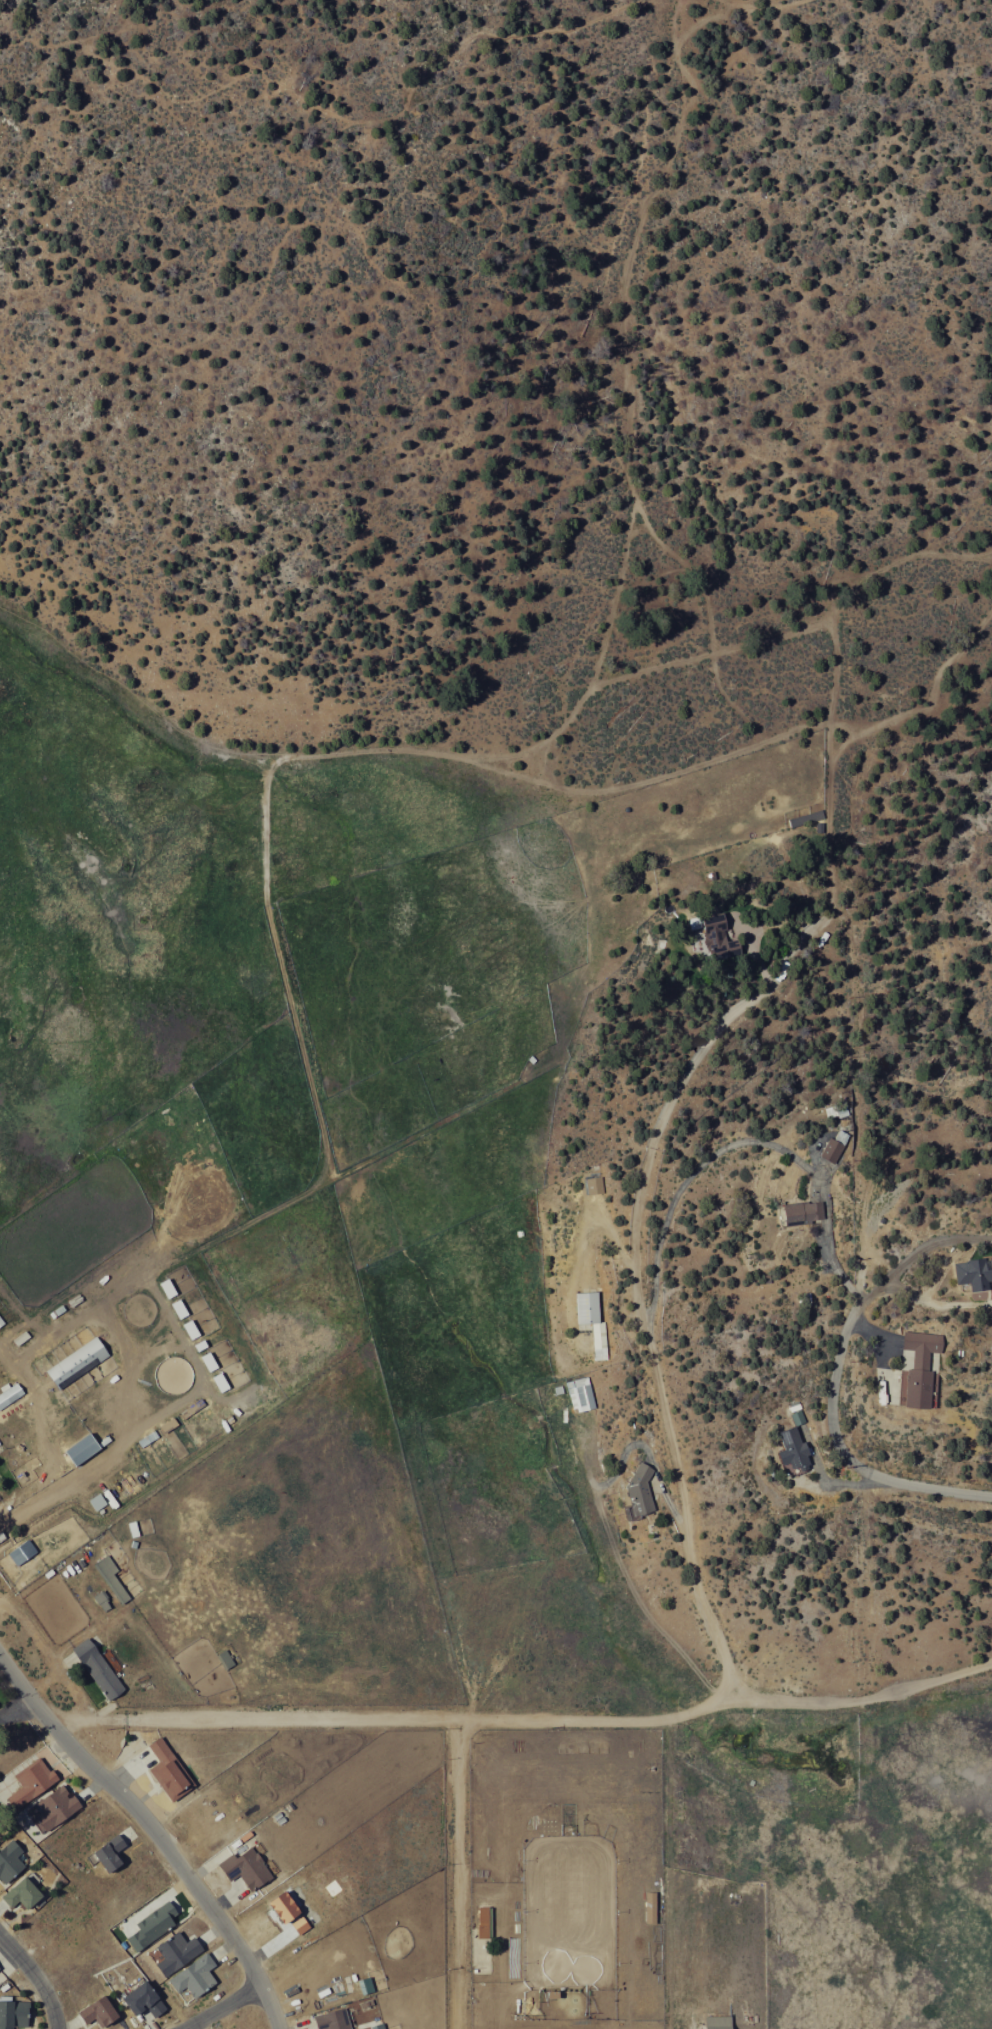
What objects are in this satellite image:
road: (833, 27)
road: (907, 706)
building: (806, 818)
building: (719, 938)
road: (828, 1132)
building: (834, 1147)
building: (594, 1185)
building: (803, 1212)
road: (654, 1228)
building: (974, 1273)
building: (167, 1288)
building: (179, 1309)
building: (1, 1322)
building: (593, 1322)
building: (190, 1329)
building: (77, 1362)
building: (208, 1362)
building: (920, 1367)
building: (220, 1382)
building: (9, 1394)
building: (580, 1394)
building: (168, 1425)
building: (82, 1450)
building: (793, 1450)
road: (913, 1487)
road: (56, 1491)
building: (639, 1494)
road: (609, 1535)
building: (21, 1552)
building: (110, 1578)
building: (102, 1601)
building: (224, 1660)
building: (98, 1668)
road: (523, 1719)
building: (168, 1770)
building: (31, 1782)
building: (56, 1807)
road: (154, 1831)
building: (110, 1852)
building: (9, 1861)
building: (247, 1867)
road: (455, 1873)
building: (22, 1892)
building: (284, 1906)
building: (650, 1907)
building: (483, 1921)
building: (152, 1925)
building: (300, 1925)
building: (176, 1952)
building: (194, 1976)
road: (36, 1978)
building: (365, 1985)
building: (143, 1999)
road: (225, 2008)
building: (98, 2010)
building: (13, 2013)
building: (333, 2019)
building: (718, 2022)
building: (377, 2026)

